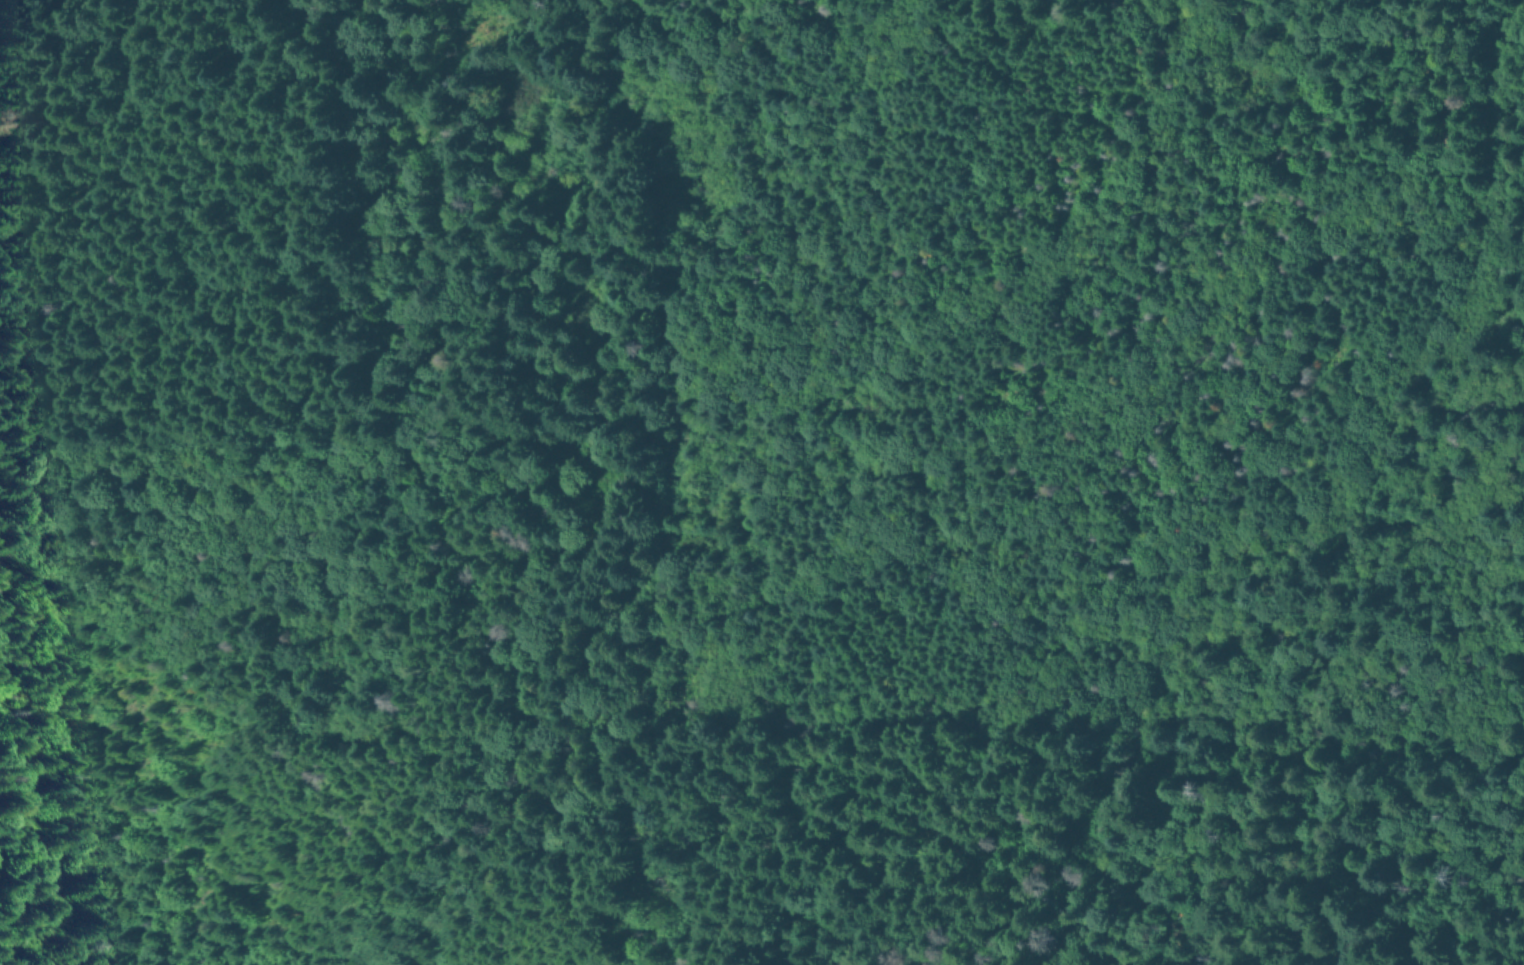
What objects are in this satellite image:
road: (1466, 203)

